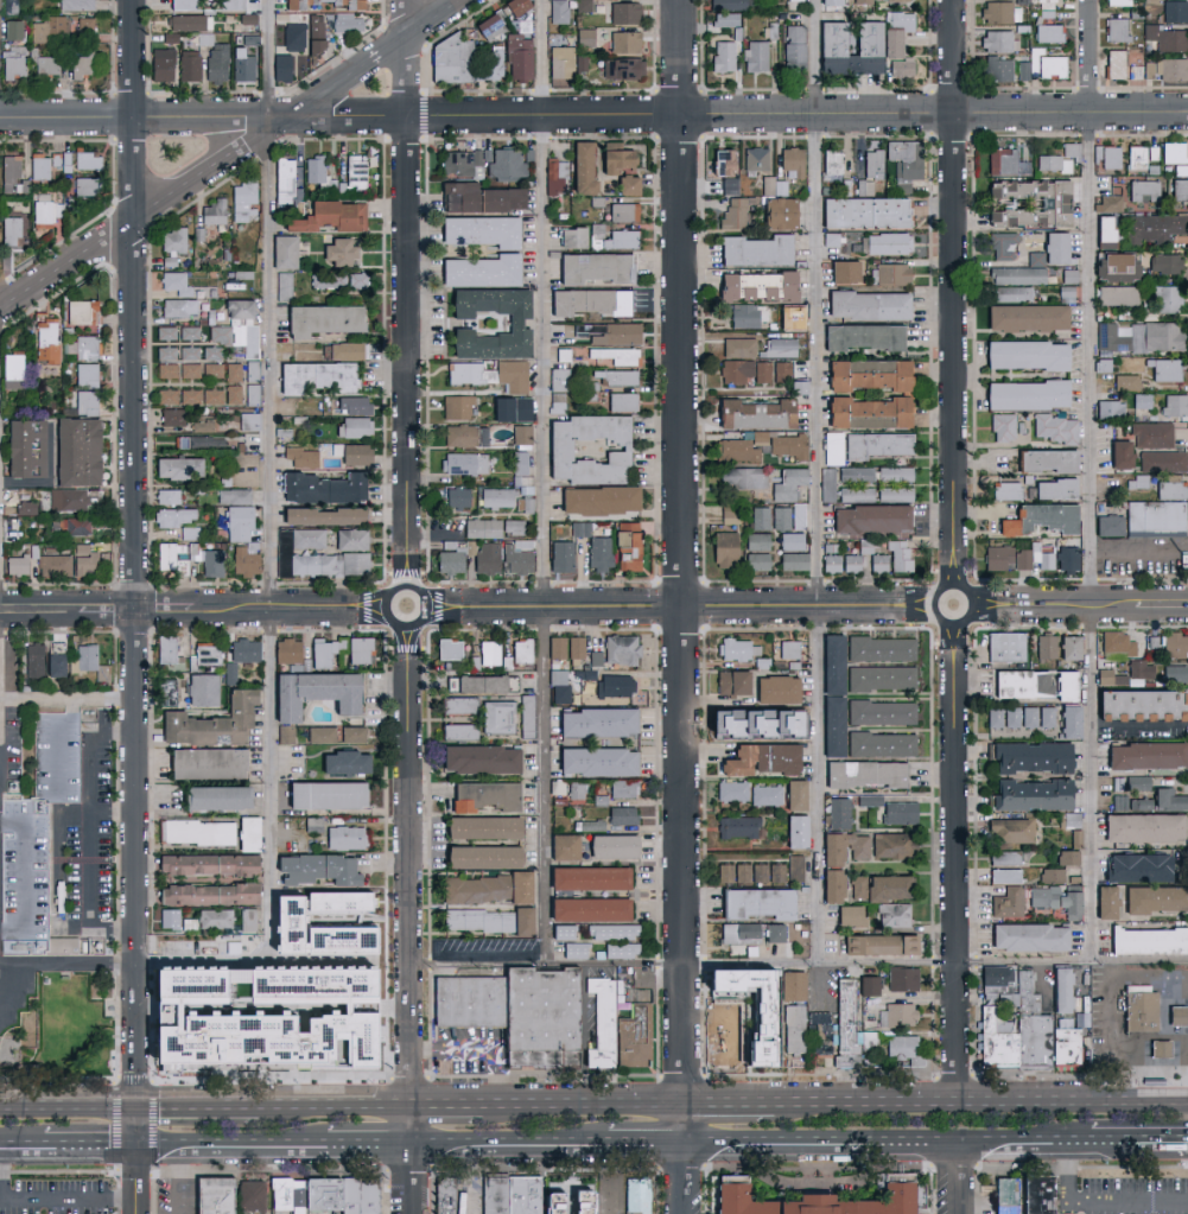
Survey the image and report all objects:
building: (799, 0)
building: (1043, 0)
building: (864, 1)
building: (1116, 2)
building: (75, 5)
building: (179, 5)
building: (231, 5)
building: (582, 5)
building: (726, 5)
building: (349, 6)
building: (513, 6)
building: (558, 11)
building: (1175, 11)
building: (999, 12)
building: (623, 13)
building: (724, 19)
building: (901, 20)
building: (186, 23)
building: (347, 23)
building: (62, 27)
building: (485, 27)
building: (11, 30)
building: (1116, 30)
building: (315, 33)
building: (1048, 33)
building: (293, 37)
building: (584, 37)
building: (1165, 38)
building: (203, 39)
building: (249, 39)
building: (865, 39)
building: (623, 42)
building: (997, 42)
building: (794, 46)
building: (895, 52)
building: (519, 53)
building: (755, 56)
building: (723, 57)
road: (1087, 58)
building: (459, 59)
building: (560, 62)
building: (215, 63)
building: (580, 63)
building: (83, 64)
building: (160, 64)
building: (1044, 64)
building: (1113, 64)
building: (12, 65)
building: (188, 65)
building: (242, 65)
building: (488, 65)
building: (281, 66)
building: (621, 68)
building: (997, 69)
building: (1170, 69)
building: (1022, 70)
building: (1139, 71)
road: (593, 119)
building: (1069, 150)
building: (1171, 151)
building: (1139, 154)
building: (1105, 155)
road: (234, 157)
building: (610, 157)
building: (755, 158)
building: (63, 160)
building: (458, 160)
building: (718, 160)
building: (792, 160)
building: (869, 160)
building: (1004, 160)
building: (82, 161)
building: (831, 161)
building: (903, 161)
building: (501, 163)
building: (1052, 163)
building: (42, 166)
building: (579, 166)
building: (315, 167)
building: (358, 169)
building: (12, 170)
building: (1180, 170)
building: (282, 176)
building: (554, 176)
building: (624, 183)
building: (728, 185)
building: (771, 185)
building: (88, 186)
building: (863, 186)
building: (1142, 189)
building: (481, 197)
building: (241, 199)
building: (1049, 201)
building: (1107, 202)
building: (622, 210)
building: (862, 210)
building: (211, 211)
building: (733, 211)
building: (776, 211)
building: (47, 214)
building: (328, 215)
building: (1103, 227)
building: (1156, 227)
building: (478, 229)
building: (12, 231)
building: (570, 236)
building: (618, 239)
building: (888, 242)
building: (170, 243)
building: (1000, 244)
building: (752, 248)
building: (1049, 248)
building: (281, 250)
building: (337, 250)
building: (1117, 262)
building: (1164, 262)
building: (591, 266)
building: (478, 269)
building: (841, 269)
building: (891, 272)
building: (1015, 274)
building: (356, 279)
building: (174, 282)
building: (783, 282)
building: (282, 285)
building: (744, 285)
road: (953, 292)
building: (1010, 292)
road: (407, 294)
building: (1117, 294)
building: (1165, 298)
building: (586, 300)
building: (865, 304)
building: (176, 306)
building: (236, 307)
building: (84, 313)
building: (747, 314)
building: (1024, 316)
building: (319, 318)
building: (512, 322)
building: (165, 331)
building: (188, 332)
building: (608, 332)
building: (218, 333)
building: (236, 333)
building: (859, 335)
building: (1138, 336)
building: (49, 341)
building: (737, 347)
building: (779, 347)
building: (87, 349)
building: (344, 350)
building: (249, 351)
building: (164, 352)
building: (186, 352)
building: (210, 352)
building: (1023, 352)
building: (614, 354)
building: (189, 369)
building: (211, 369)
building: (1163, 369)
building: (166, 370)
building: (233, 370)
building: (770, 370)
building: (14, 371)
building: (865, 373)
building: (489, 374)
building: (88, 375)
building: (315, 375)
building: (614, 375)
building: (558, 377)
building: (1125, 381)
building: (233, 393)
building: (1023, 393)
building: (177, 394)
building: (212, 395)
building: (620, 400)
building: (1141, 400)
building: (555, 402)
building: (89, 403)
building: (1174, 403)
building: (284, 406)
building: (456, 406)
building: (509, 407)
building: (1108, 408)
building: (751, 412)
building: (866, 412)
building: (170, 417)
building: (248, 420)
building: (1002, 425)
building: (352, 426)
building: (1055, 427)
building: (520, 433)
building: (464, 434)
building: (1151, 434)
building: (557, 444)
building: (877, 444)
building: (833, 447)
building: (28, 449)
building: (736, 450)
building: (81, 452)
building: (355, 453)
building: (1118, 453)
building: (300, 456)
building: (1046, 459)
building: (1162, 460)
building: (463, 463)
building: (177, 466)
building: (895, 473)
building: (856, 475)
building: (741, 477)
road: (545, 482)
road: (820, 482)
road: (274, 483)
building: (788, 483)
building: (827, 484)
building: (322, 487)
building: (1053, 488)
building: (1004, 489)
building: (1171, 489)
building: (856, 494)
building: (895, 494)
building: (166, 495)
building: (233, 495)
building: (453, 497)
building: (497, 497)
building: (597, 498)
building: (71, 500)
building: (28, 509)
building: (319, 514)
building: (729, 514)
building: (172, 515)
building: (760, 516)
building: (1156, 516)
building: (781, 517)
building: (870, 517)
building: (1038, 517)
building: (234, 521)
building: (75, 525)
building: (493, 527)
building: (1112, 527)
building: (579, 528)
building: (189, 532)
building: (306, 538)
building: (350, 539)
road: (1091, 539)
building: (756, 541)
building: (790, 541)
building: (625, 546)
building: (723, 548)
building: (597, 552)
building: (169, 554)
road: (685, 554)
building: (898, 554)
building: (1042, 554)
building: (559, 555)
building: (487, 557)
building: (516, 557)
building: (830, 557)
building: (997, 557)
building: (1021, 558)
building: (244, 559)
building: (1067, 559)
building: (87, 560)
building: (756, 560)
building: (793, 560)
building: (211, 561)
building: (449, 561)
building: (851, 561)
building: (878, 561)
building: (328, 562)
building: (19, 565)
building: (56, 566)
road: (134, 606)
road: (1084, 606)
road: (682, 610)
road: (191, 612)
road: (382, 616)
road: (942, 629)
building: (1116, 642)
building: (1167, 644)
building: (573, 646)
building: (1005, 646)
building: (1046, 646)
building: (554, 647)
building: (1067, 647)
building: (447, 648)
building: (620, 648)
building: (736, 648)
building: (786, 648)
building: (879, 648)
building: (167, 649)
building: (243, 649)
building: (356, 649)
building: (520, 649)
building: (286, 650)
building: (323, 650)
building: (488, 652)
building: (205, 654)
building: (87, 656)
building: (595, 656)
building: (34, 660)
building: (55, 663)
building: (830, 663)
building: (1139, 670)
building: (229, 672)
building: (1175, 673)
building: (557, 675)
building: (879, 676)
building: (728, 681)
building: (1019, 682)
building: (615, 685)
building: (1065, 685)
building: (199, 688)
building: (774, 688)
building: (164, 691)
building: (310, 692)
road: (68, 698)
building: (459, 704)
building: (1137, 704)
road: (1, 705)
building: (879, 711)
building: (496, 716)
building: (526, 716)
building: (1010, 716)
building: (1028, 716)
building: (1046, 716)
building: (992, 717)
building: (209, 720)
building: (595, 720)
building: (1067, 720)
building: (831, 725)
road: (1139, 727)
building: (457, 731)
building: (285, 733)
building: (319, 733)
building: (350, 733)
building: (879, 744)
building: (1144, 755)
building: (1030, 756)
building: (478, 757)
building: (758, 758)
building: (341, 761)
building: (593, 761)
building: (204, 762)
building: (863, 773)
building: (621, 788)
building: (576, 789)
building: (730, 790)
building: (322, 794)
building: (764, 794)
building: (793, 794)
building: (1029, 794)
building: (481, 795)
building: (214, 796)
building: (869, 799)
building: (1168, 799)
building: (1138, 803)
building: (838, 812)
building: (898, 812)
building: (621, 814)
building: (479, 826)
building: (737, 826)
building: (1141, 827)
building: (44, 830)
parking lot: (44, 830)
building: (1008, 830)
building: (197, 831)
building: (793, 831)
building: (246, 833)
road: (90, 837)
building: (344, 837)
parking lot: (89, 840)
building: (611, 845)
building: (891, 845)
building: (561, 846)
building: (856, 846)
building: (830, 848)
building: (479, 856)
building: (1003, 857)
building: (1066, 857)
building: (204, 864)
building: (1137, 866)
building: (794, 867)
building: (316, 869)
road: (959, 870)
building: (749, 872)
building: (1003, 875)
building: (1050, 875)
building: (586, 877)
building: (831, 885)
building: (877, 886)
building: (488, 888)
road: (411, 892)
building: (205, 894)
building: (1056, 898)
building: (1155, 898)
building: (755, 902)
building: (1006, 902)
building: (1104, 902)
building: (585, 908)
building: (846, 914)
building: (892, 914)
building: (167, 917)
building: (215, 917)
building: (246, 919)
building: (488, 920)
building: (611, 930)
building: (749, 933)
building: (1027, 936)
building: (1150, 941)
building: (566, 943)
building: (877, 943)
building: (620, 949)
road: (663, 964)
building: (902, 978)
building: (866, 985)
building: (795, 987)
building: (1063, 992)
building: (1024, 993)
building: (476, 1004)
building: (553, 1010)
building: (1143, 1012)
building: (898, 1013)
building: (743, 1016)
building: (1180, 1017)
building: (609, 1024)
building: (363, 1025)
building: (849, 1025)
building: (730, 1027)
building: (796, 1030)
building: (815, 1032)
building: (641, 1038)
building: (1036, 1041)
building: (998, 1042)
building: (11, 1043)
building: (1068, 1047)
building: (903, 1048)
building: (174, 1049)
building: (1162, 1049)
road: (980, 1105)
road: (336, 1107)
road: (732, 1107)
road: (70, 1108)
road: (199, 1108)
road: (449, 1108)
road: (586, 1108)
road: (739, 1120)
road: (624, 1125)
road: (1116, 1145)
road: (1165, 1145)
road: (824, 1146)
road: (1023, 1146)
road: (233, 1148)
road: (370, 1148)
road: (507, 1148)
road: (644, 1148)
road: (90, 1149)
road: (20, 1150)
road: (958, 1180)
road: (176, 1181)
road: (414, 1181)
road: (688, 1181)
building: (1043, 1194)
parking lot: (58, 1195)
building: (355, 1195)
building: (223, 1196)
building: (294, 1196)
building: (446, 1196)
building: (496, 1196)
building: (531, 1196)
building: (1011, 1196)
building: (260, 1197)
building: (332, 1197)
building: (644, 1197)
building: (818, 1199)
road: (69, 1200)
building: (563, 1200)
road: (1098, 1203)
road: (1067, 1208)

